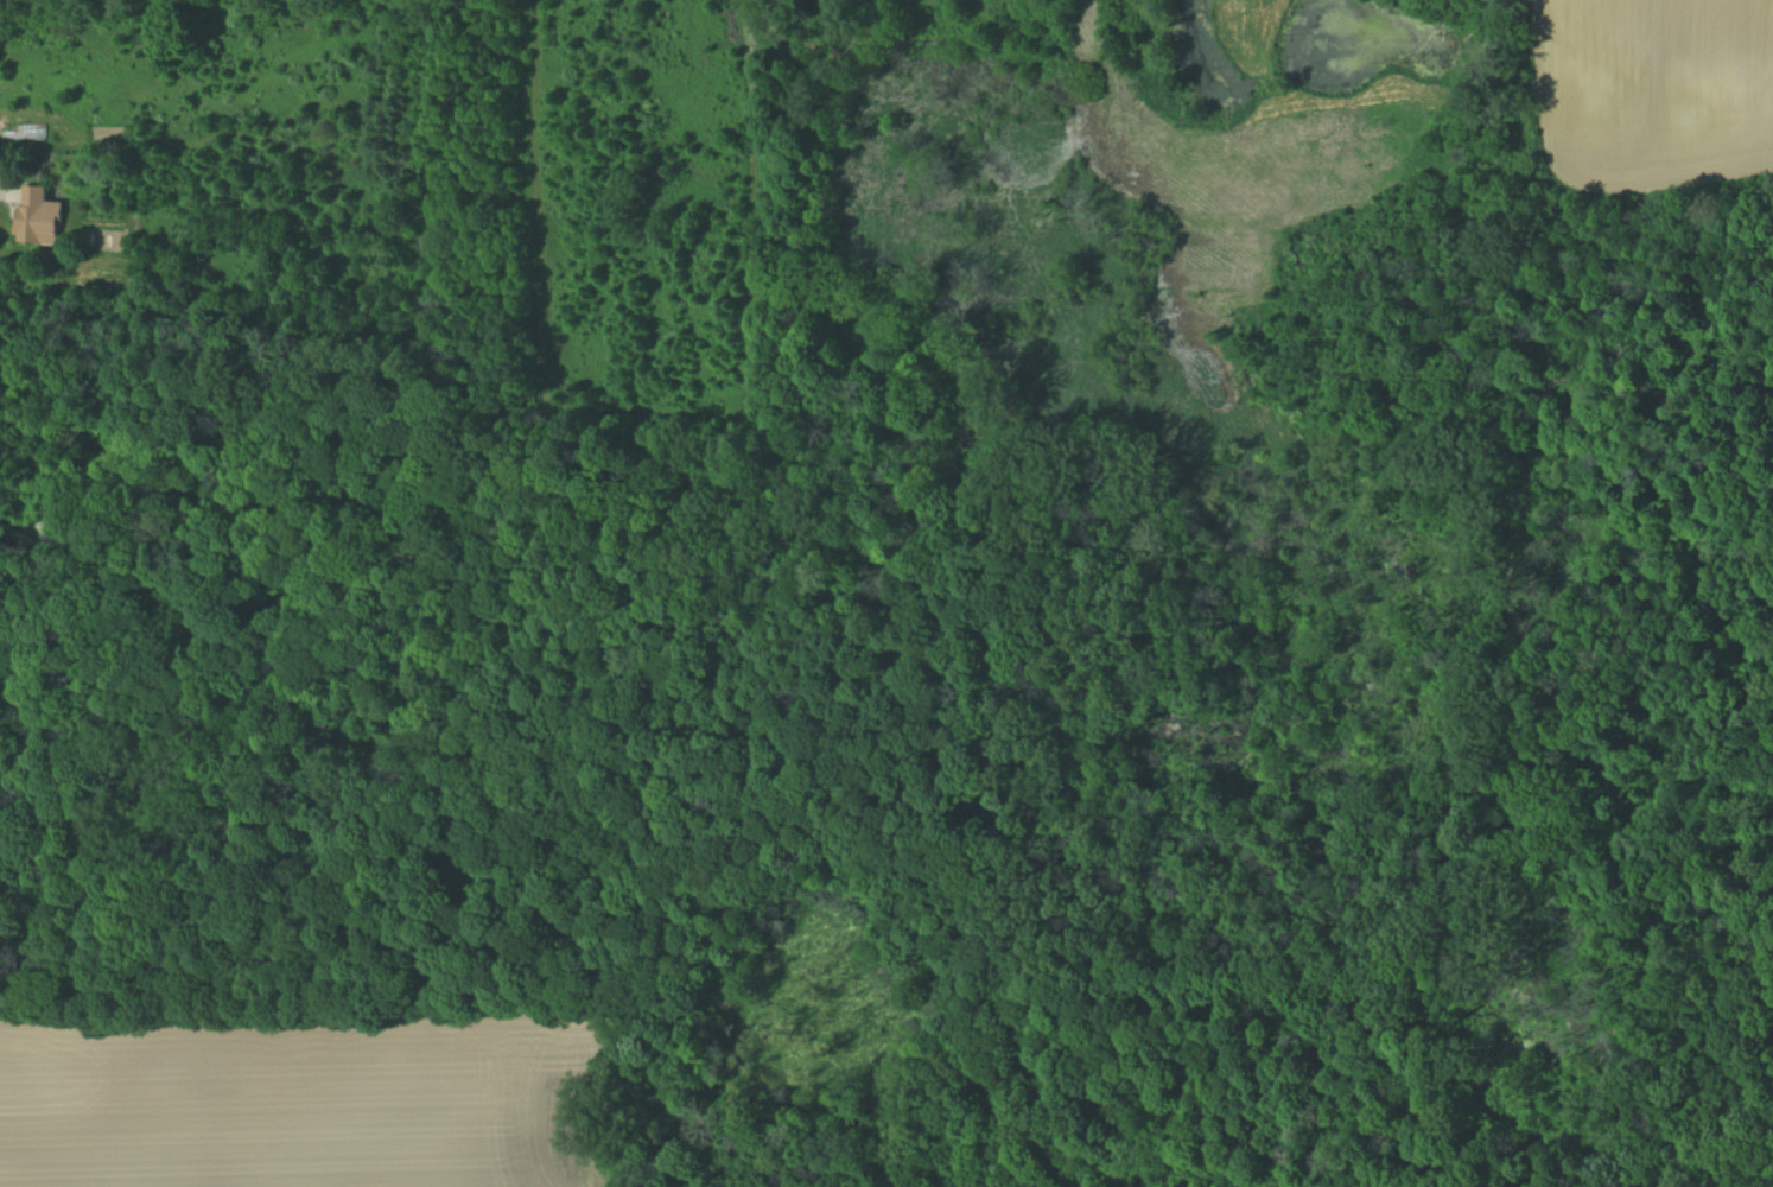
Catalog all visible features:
building: (39, 218)

